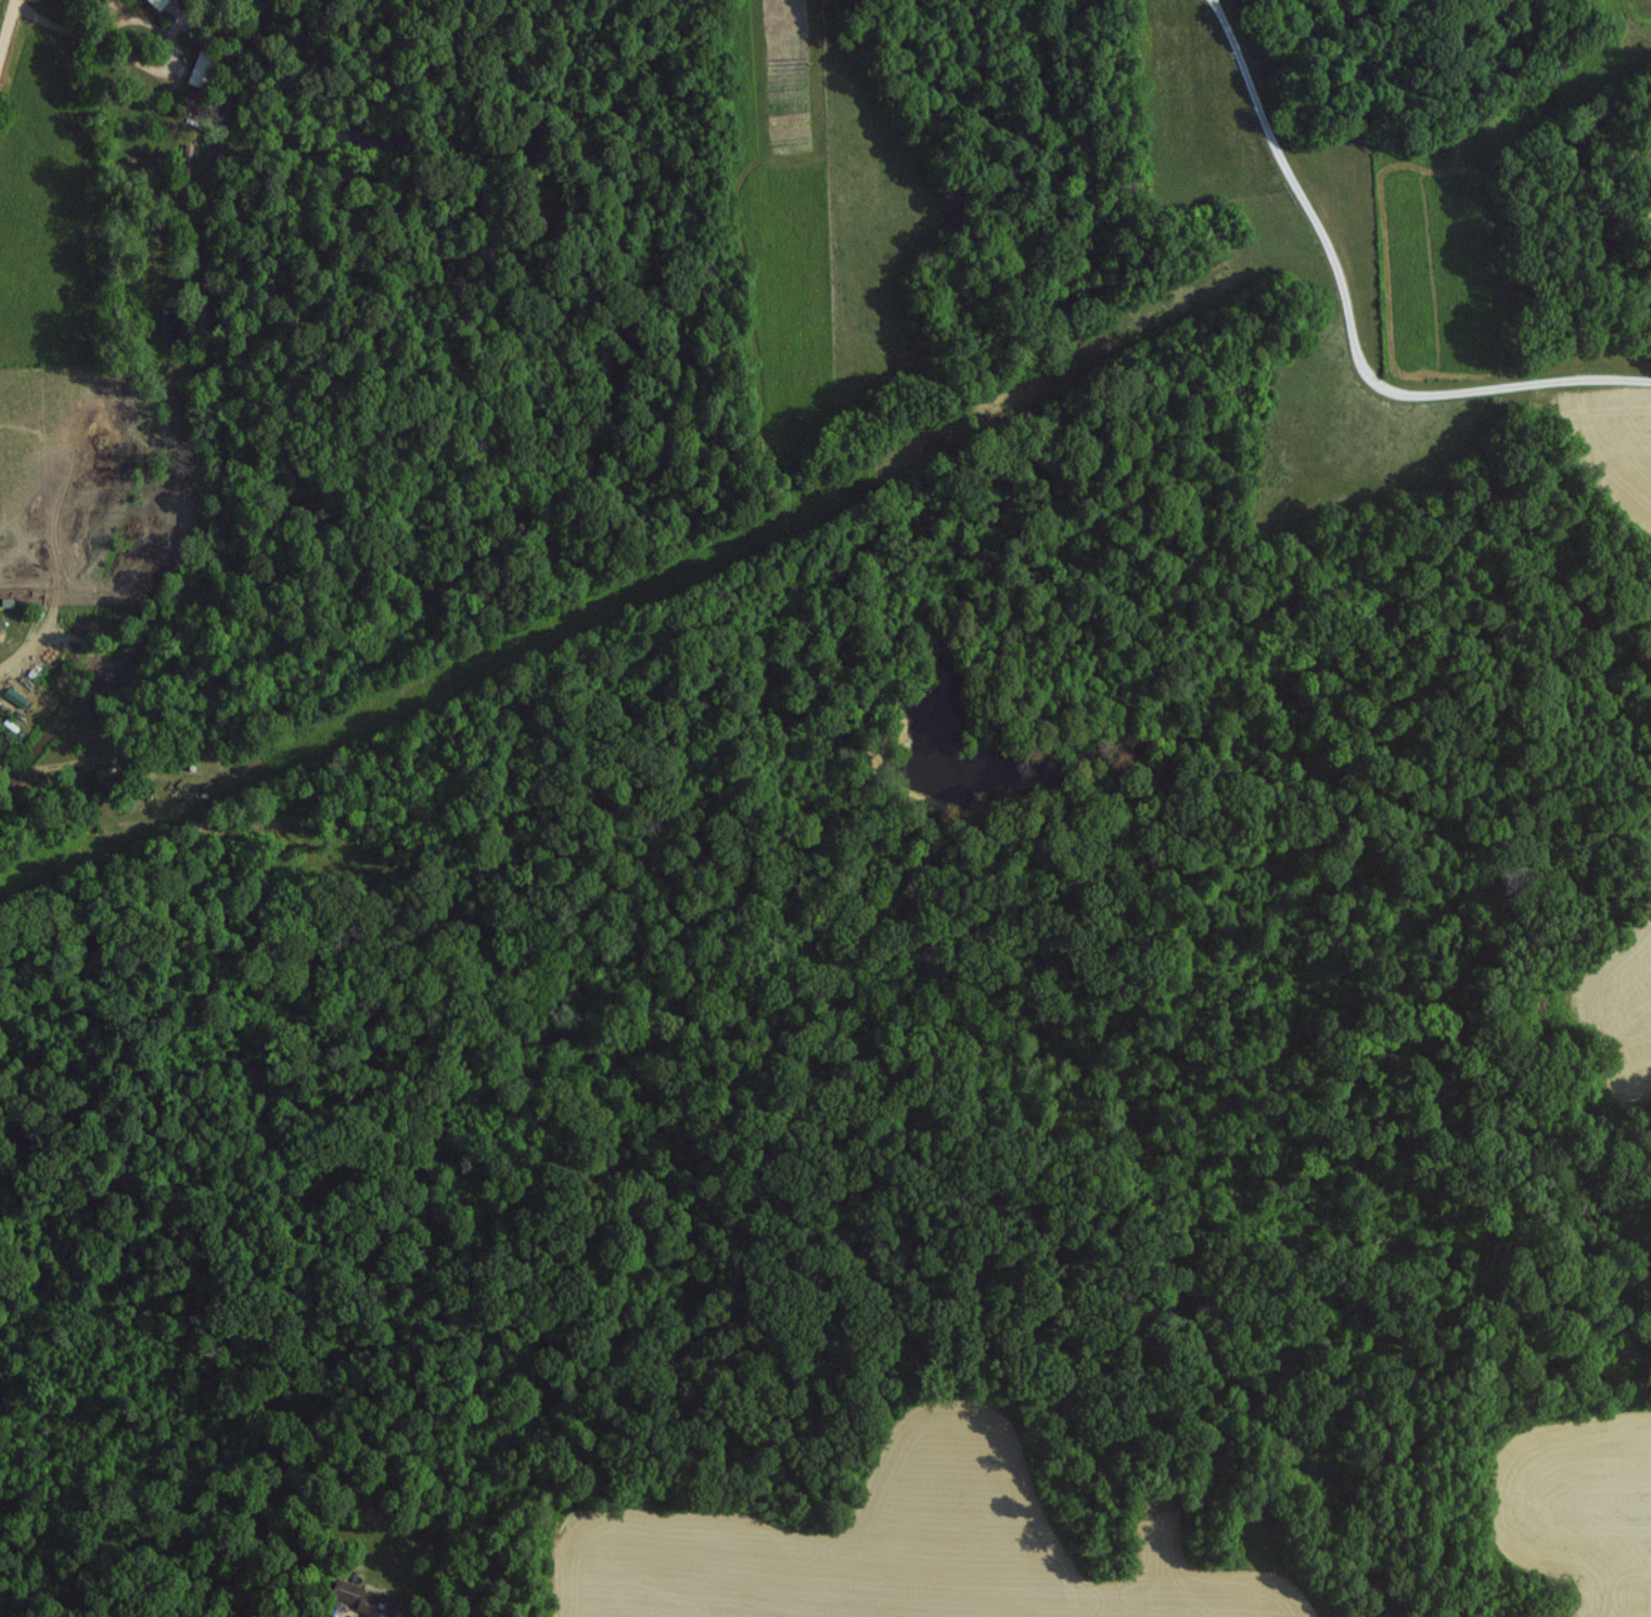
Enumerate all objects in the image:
road: (7, 22)
road: (145, 65)
road: (1352, 319)

